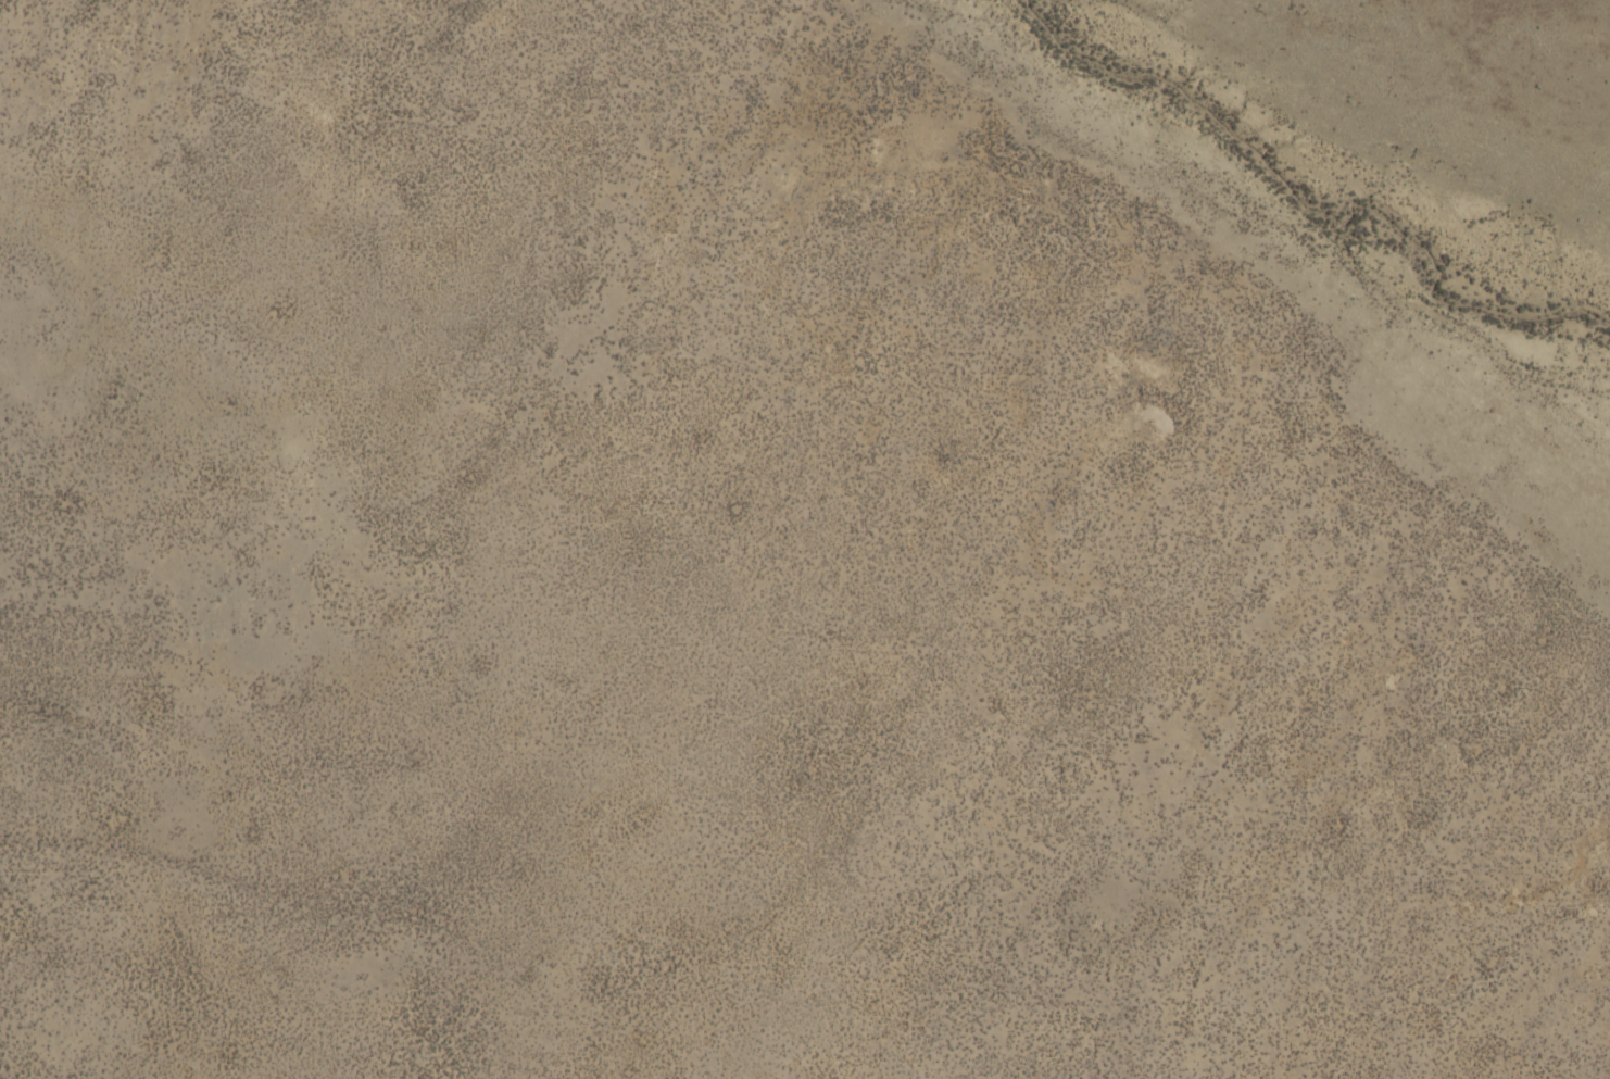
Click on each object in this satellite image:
river: (1309, 200)

